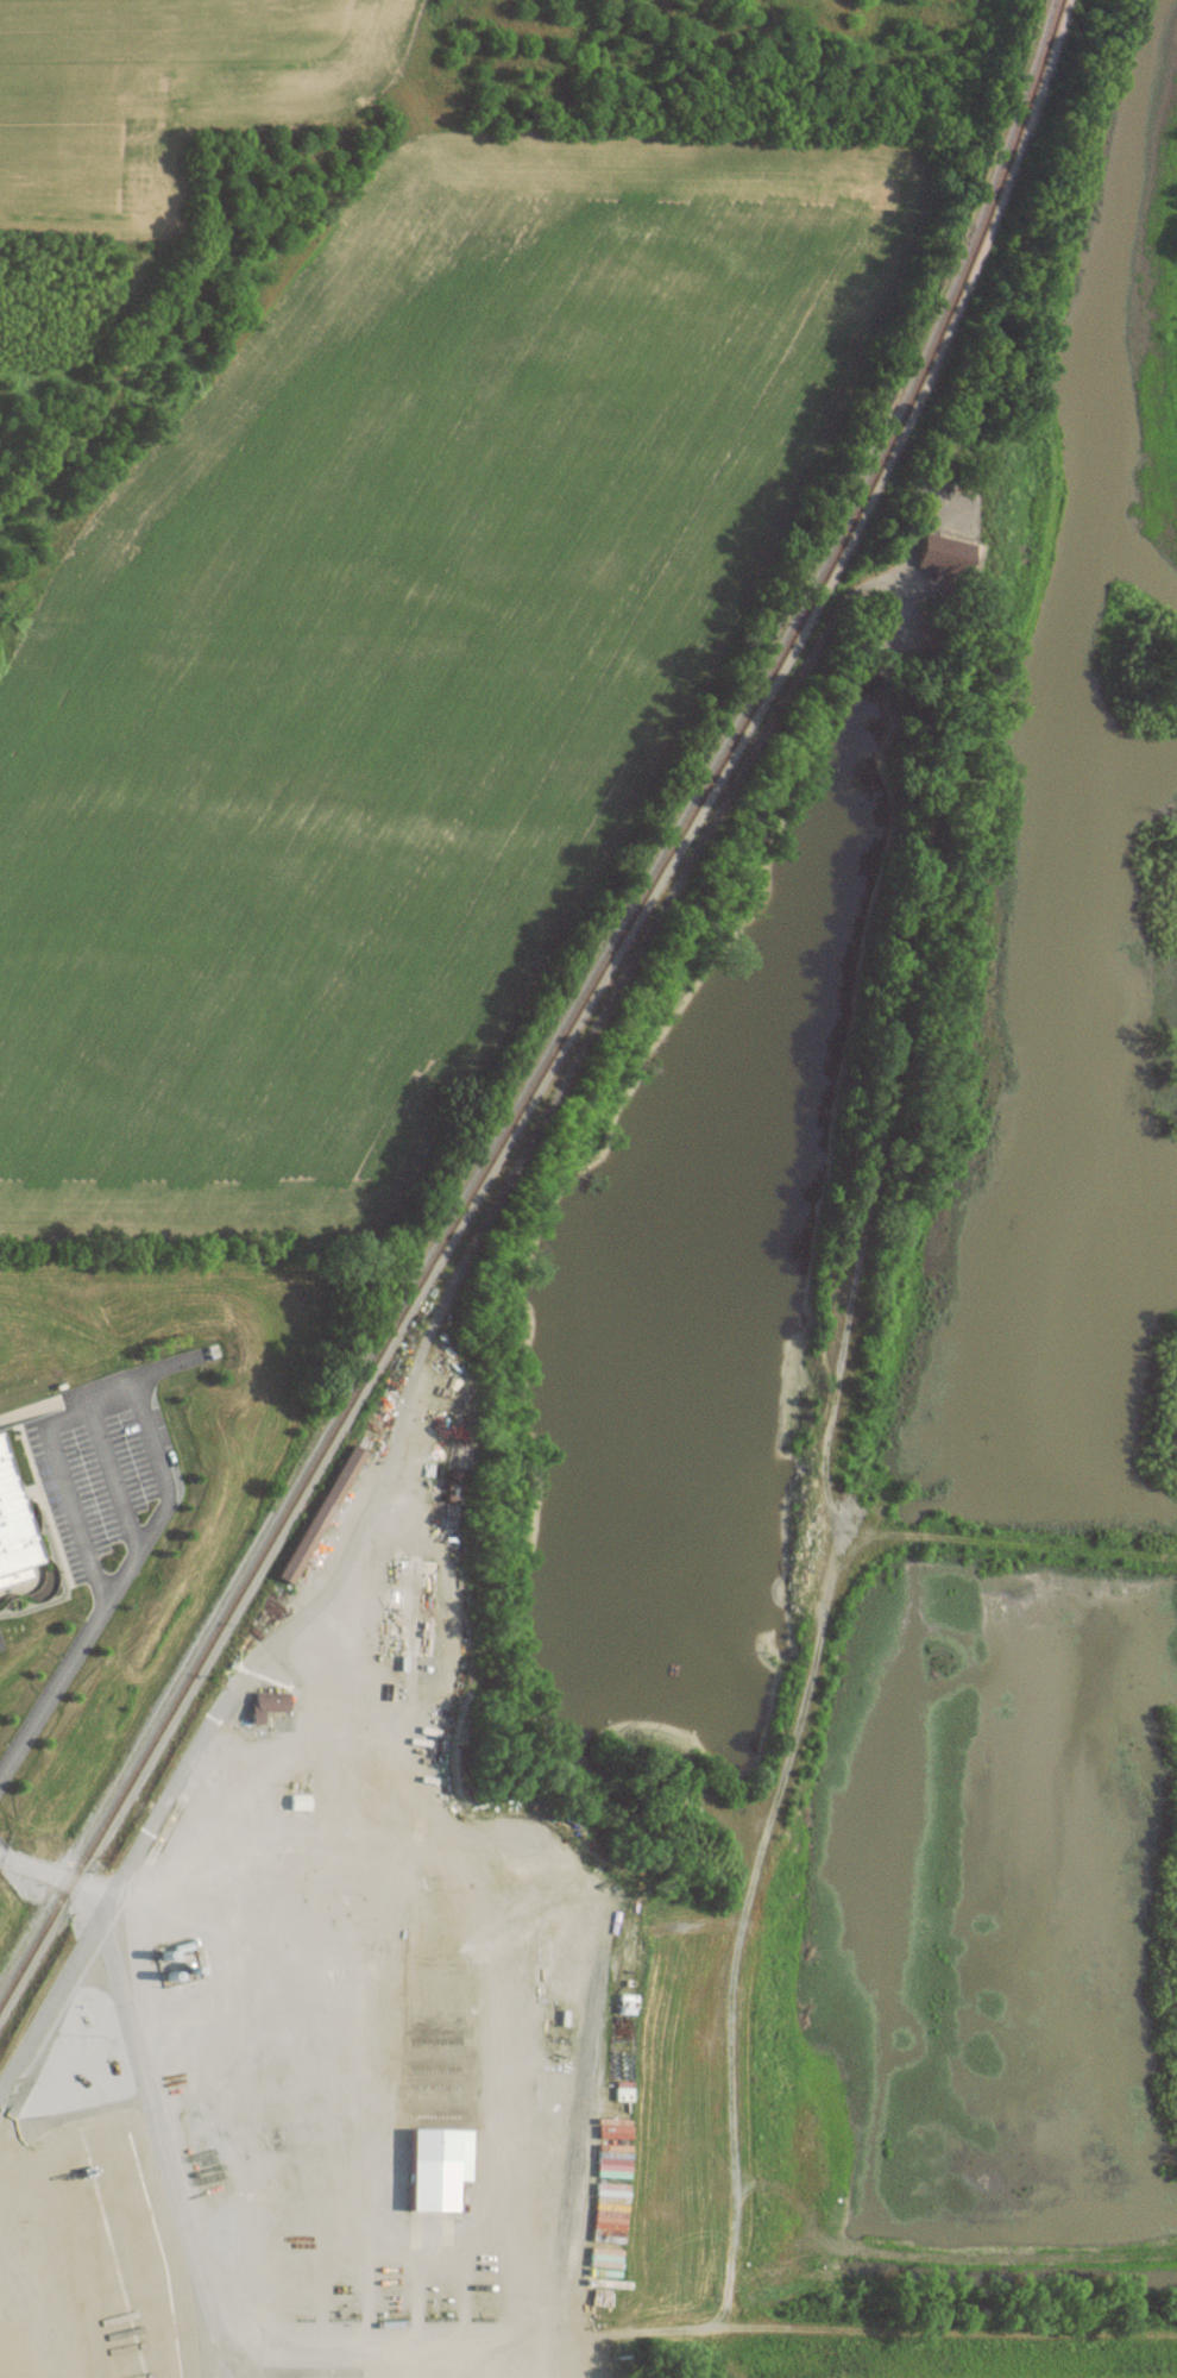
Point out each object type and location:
building: (943, 553)
railway: (567, 1023)
road: (113, 1391)
building: (320, 1512)
building: (10, 1538)
building: (410, 1606)
building: (426, 1667)
road: (51, 1688)
building: (265, 1702)
road: (222, 1705)
building: (298, 1801)
road: (410, 1830)
road: (499, 1836)
road: (354, 1893)
road: (145, 2078)
building: (621, 2090)
road: (348, 2121)
building: (611, 2150)
building: (435, 2166)
building: (606, 2232)
road: (350, 2259)
road: (690, 2344)
road: (558, 2363)

